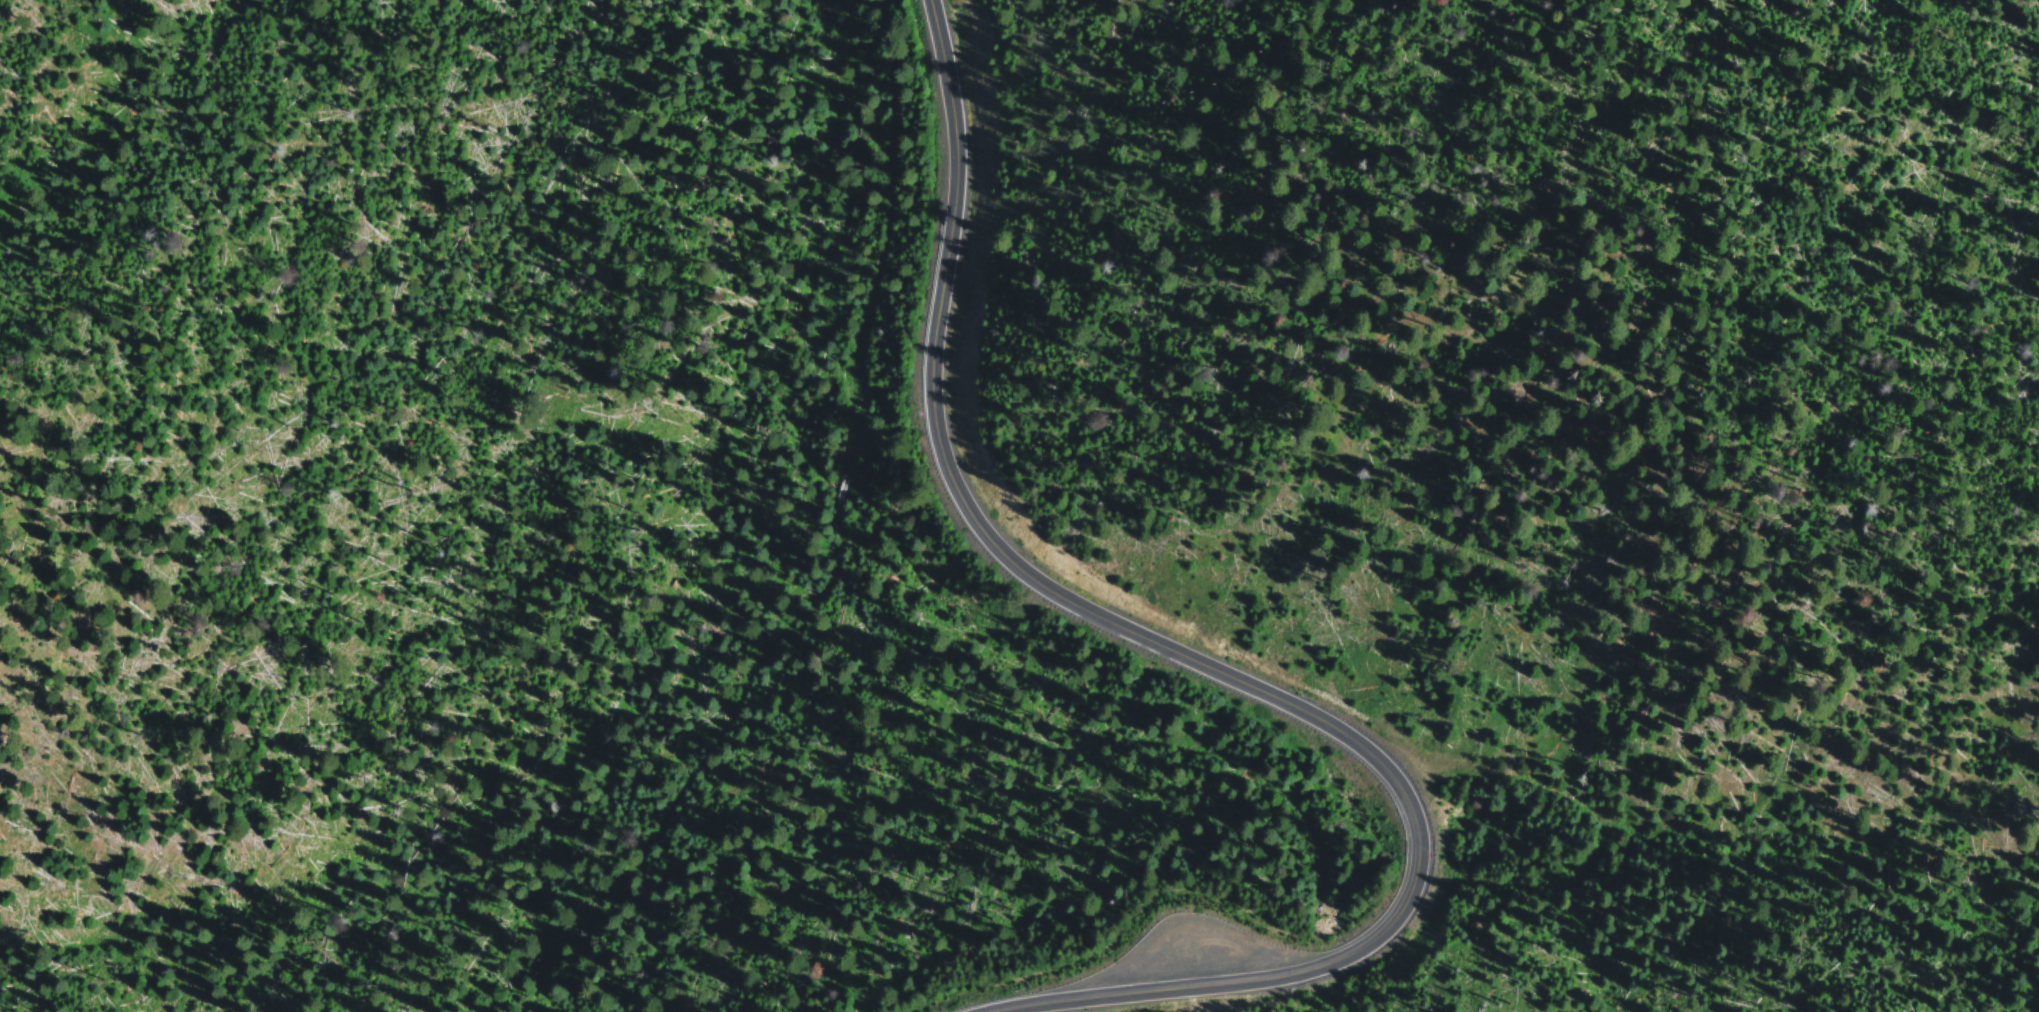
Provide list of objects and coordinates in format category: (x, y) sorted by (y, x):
road: (792, 533)
road: (1203, 664)

